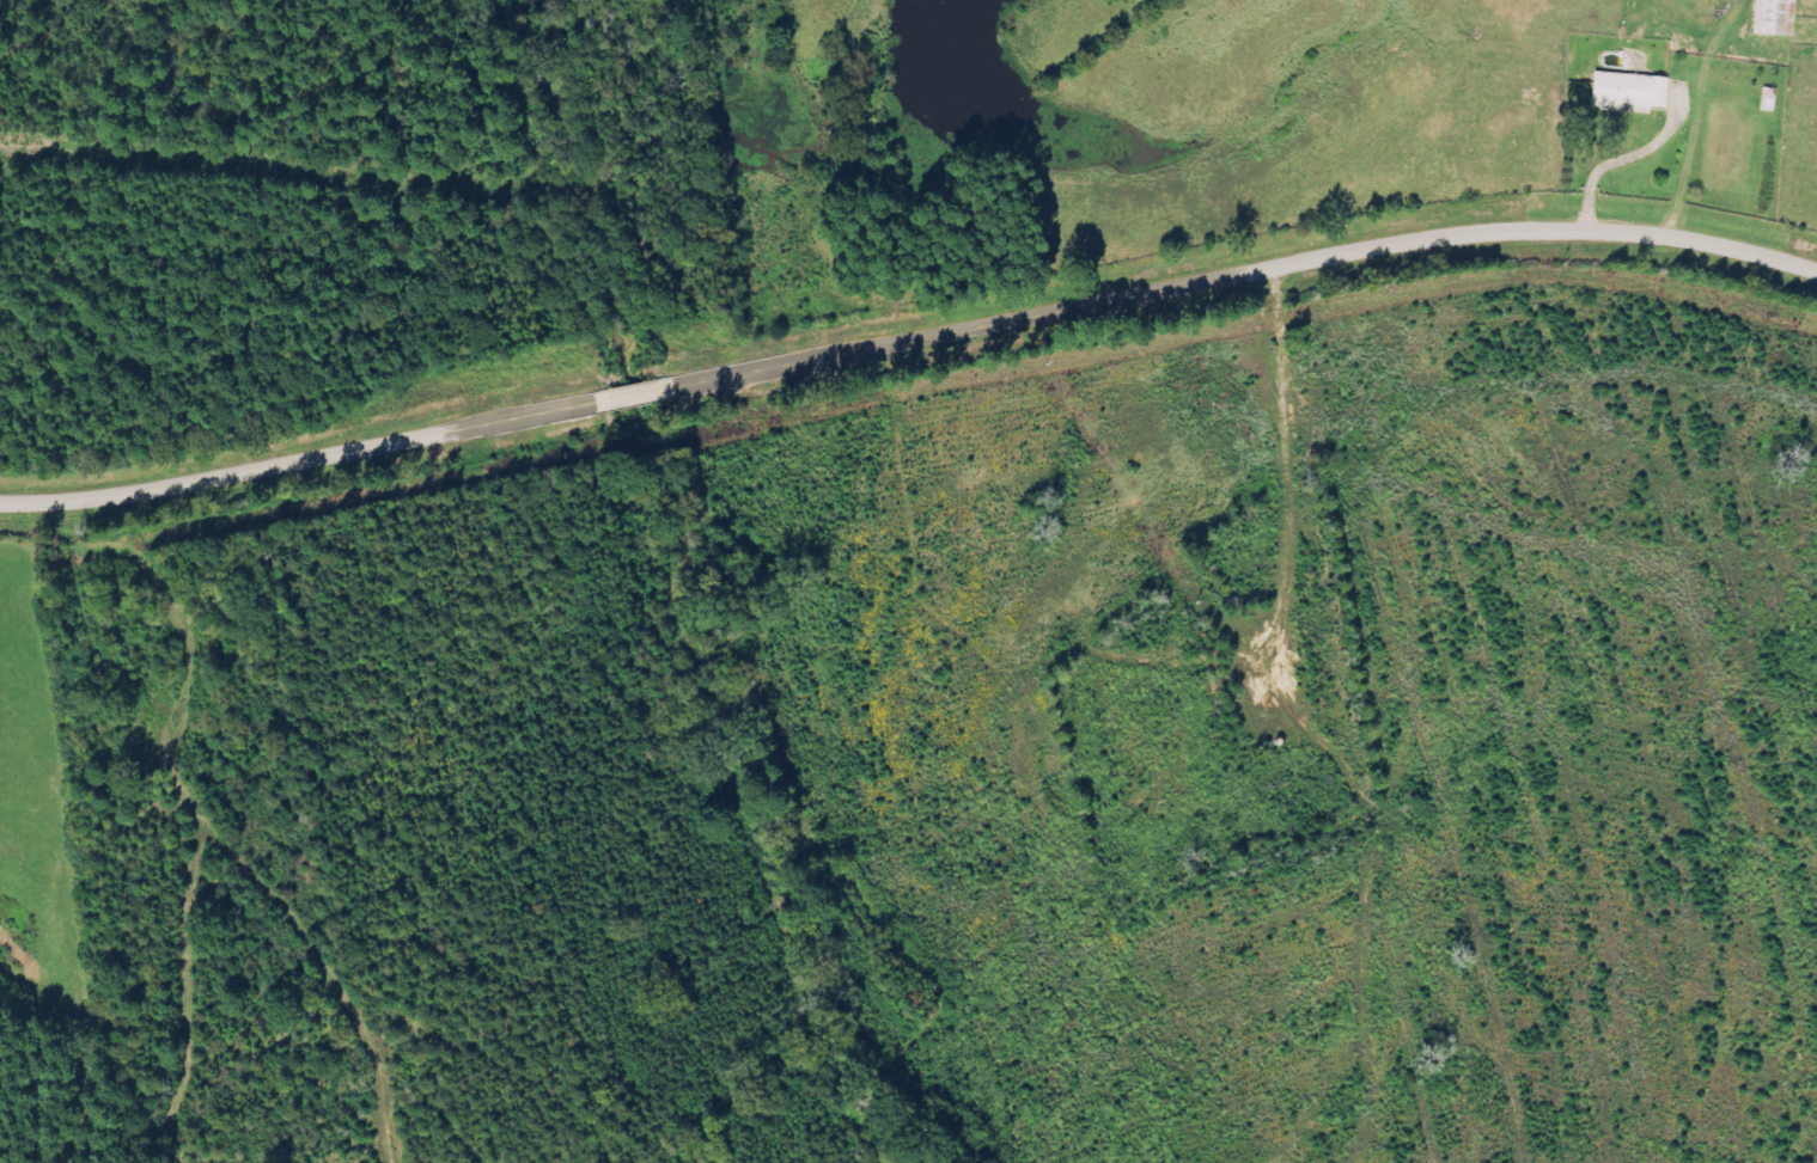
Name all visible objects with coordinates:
building: (1779, 17)
building: (1633, 92)
road: (1242, 273)
road: (634, 393)
road: (299, 463)

